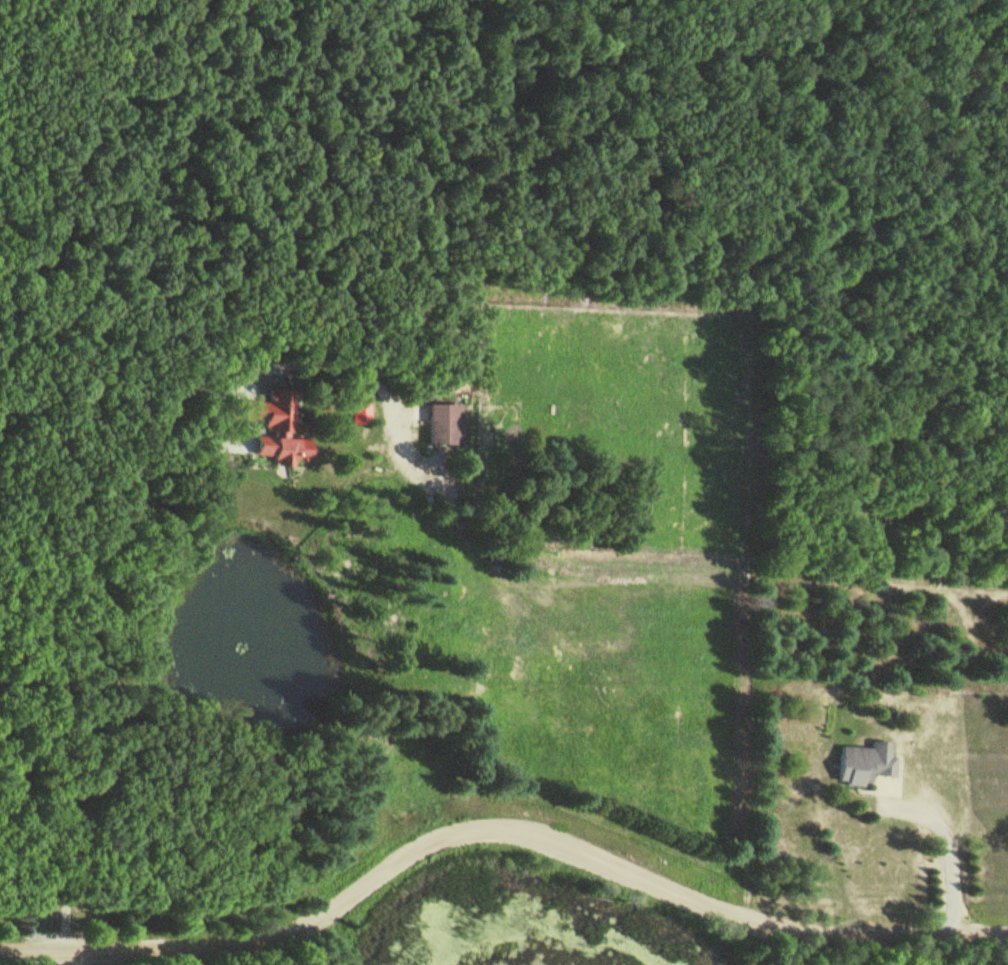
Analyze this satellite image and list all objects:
building: (359, 403)
building: (444, 422)
building: (276, 426)
road: (189, 451)
building: (904, 498)
road: (882, 525)
road: (802, 579)
road: (506, 592)
road: (601, 646)
road: (42, 696)
road: (937, 710)
building: (864, 761)
road: (902, 806)
road: (497, 827)
road: (950, 877)
road: (63, 956)
road: (177, 956)

